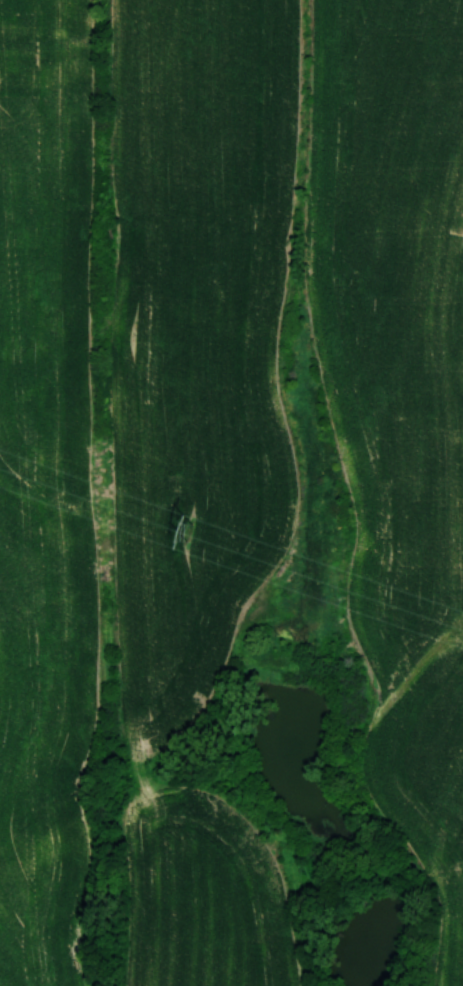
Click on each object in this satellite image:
power tower: (190, 534)

